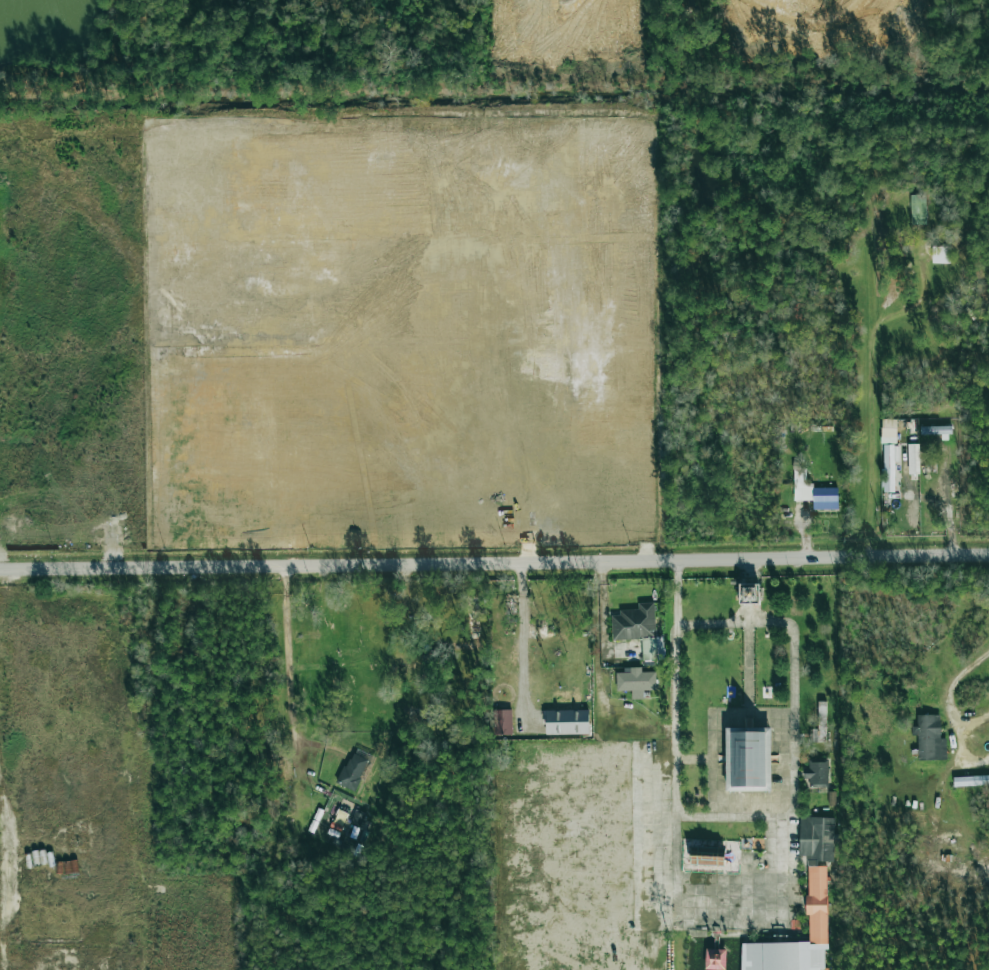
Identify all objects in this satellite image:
building: (917, 210)
building: (940, 253)
road: (880, 387)
building: (936, 431)
building: (913, 458)
building: (890, 467)
building: (813, 492)
road: (945, 502)
road: (494, 558)
building: (748, 593)
road: (599, 604)
road: (735, 623)
building: (639, 630)
road: (524, 633)
building: (635, 681)
road: (675, 685)
road: (953, 709)
road: (293, 710)
road: (973, 720)
building: (501, 722)
building: (566, 722)
building: (929, 738)
building: (748, 759)
building: (352, 771)
building: (816, 774)
building: (971, 781)
road: (727, 814)
building: (816, 839)
building: (707, 857)
road: (780, 859)
building: (816, 904)
road: (0, 933)

